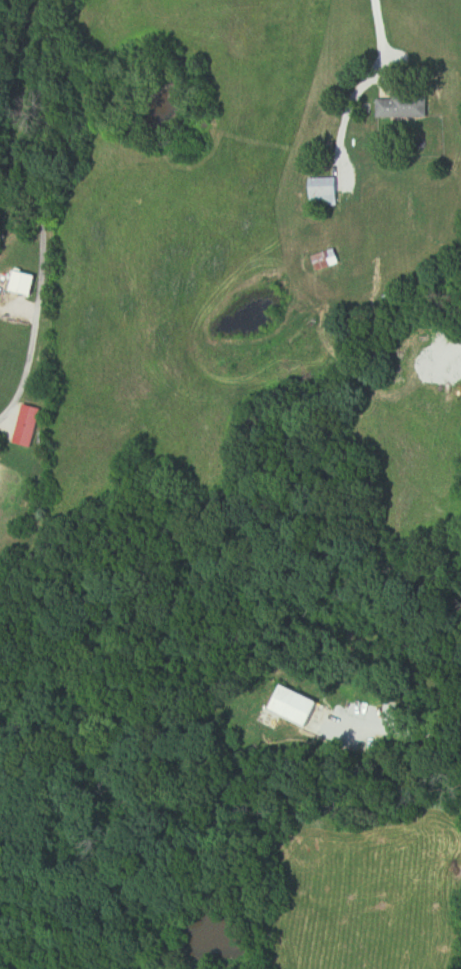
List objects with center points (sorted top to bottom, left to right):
road: (382, 52)
building: (403, 106)
building: (325, 192)
road: (38, 211)
building: (328, 260)
building: (25, 283)
road: (401, 731)

